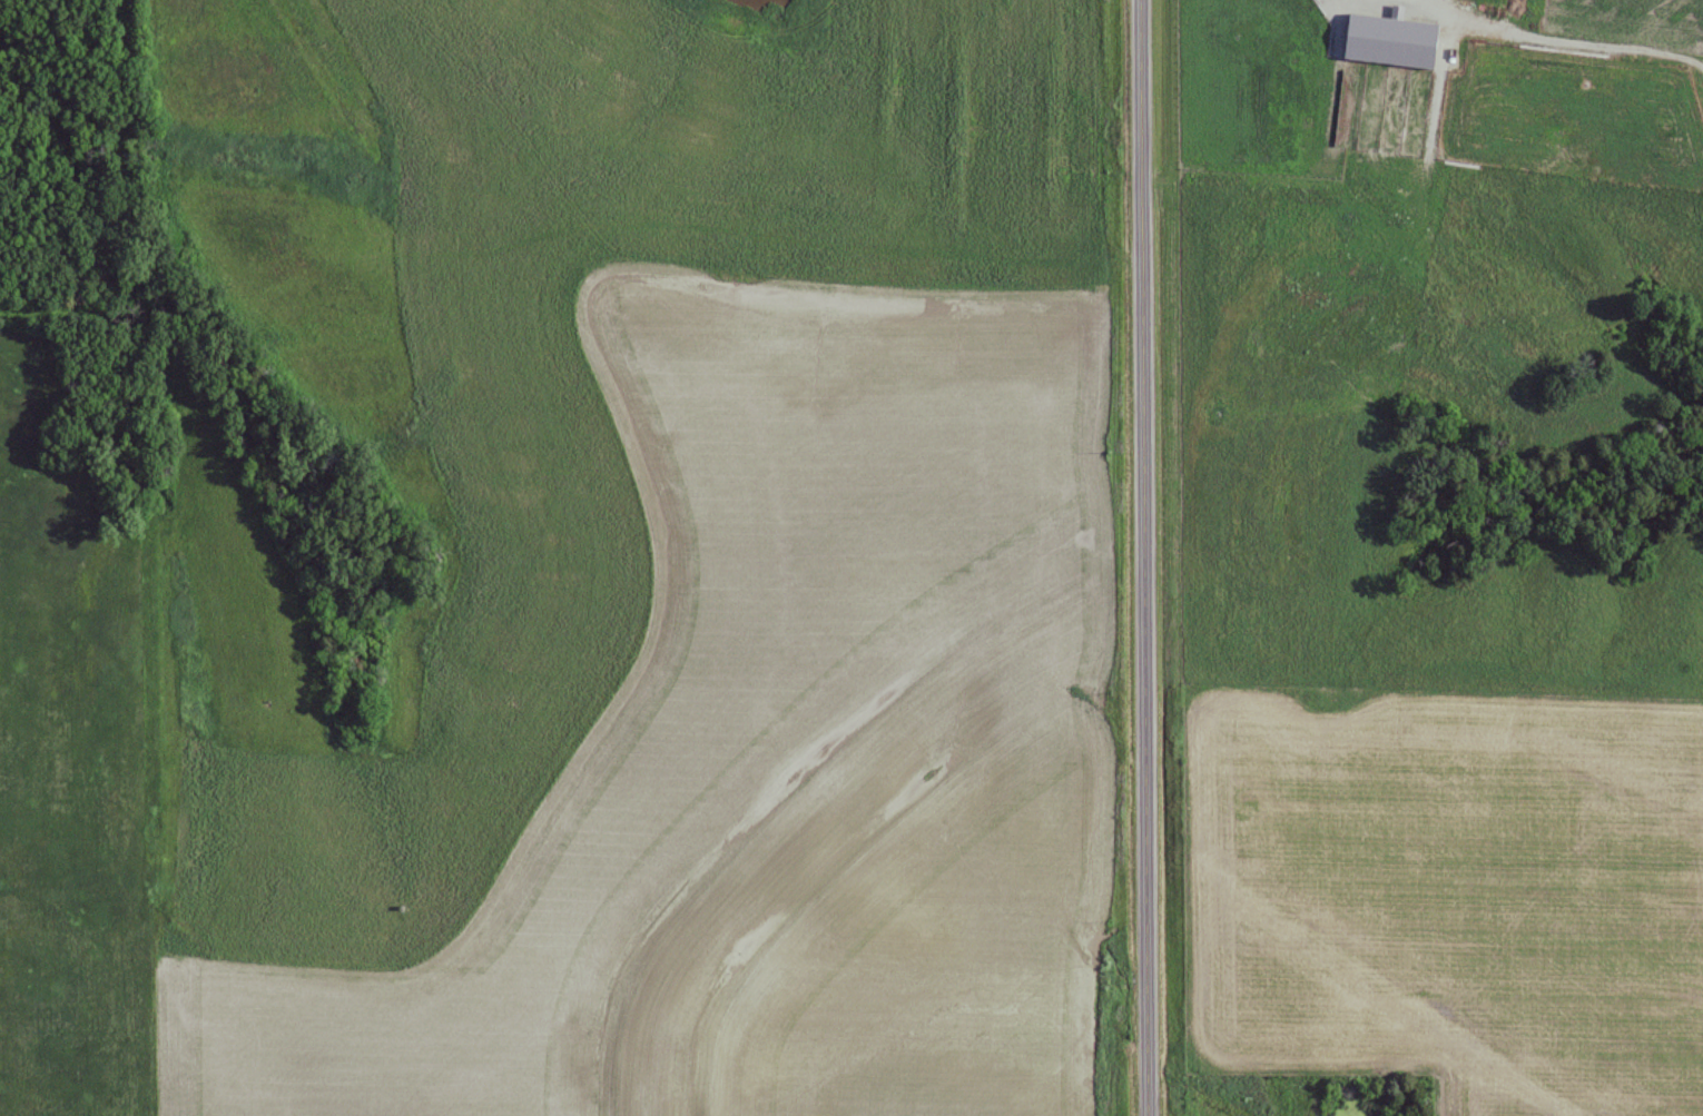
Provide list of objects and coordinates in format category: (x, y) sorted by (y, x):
road: (1146, 557)

